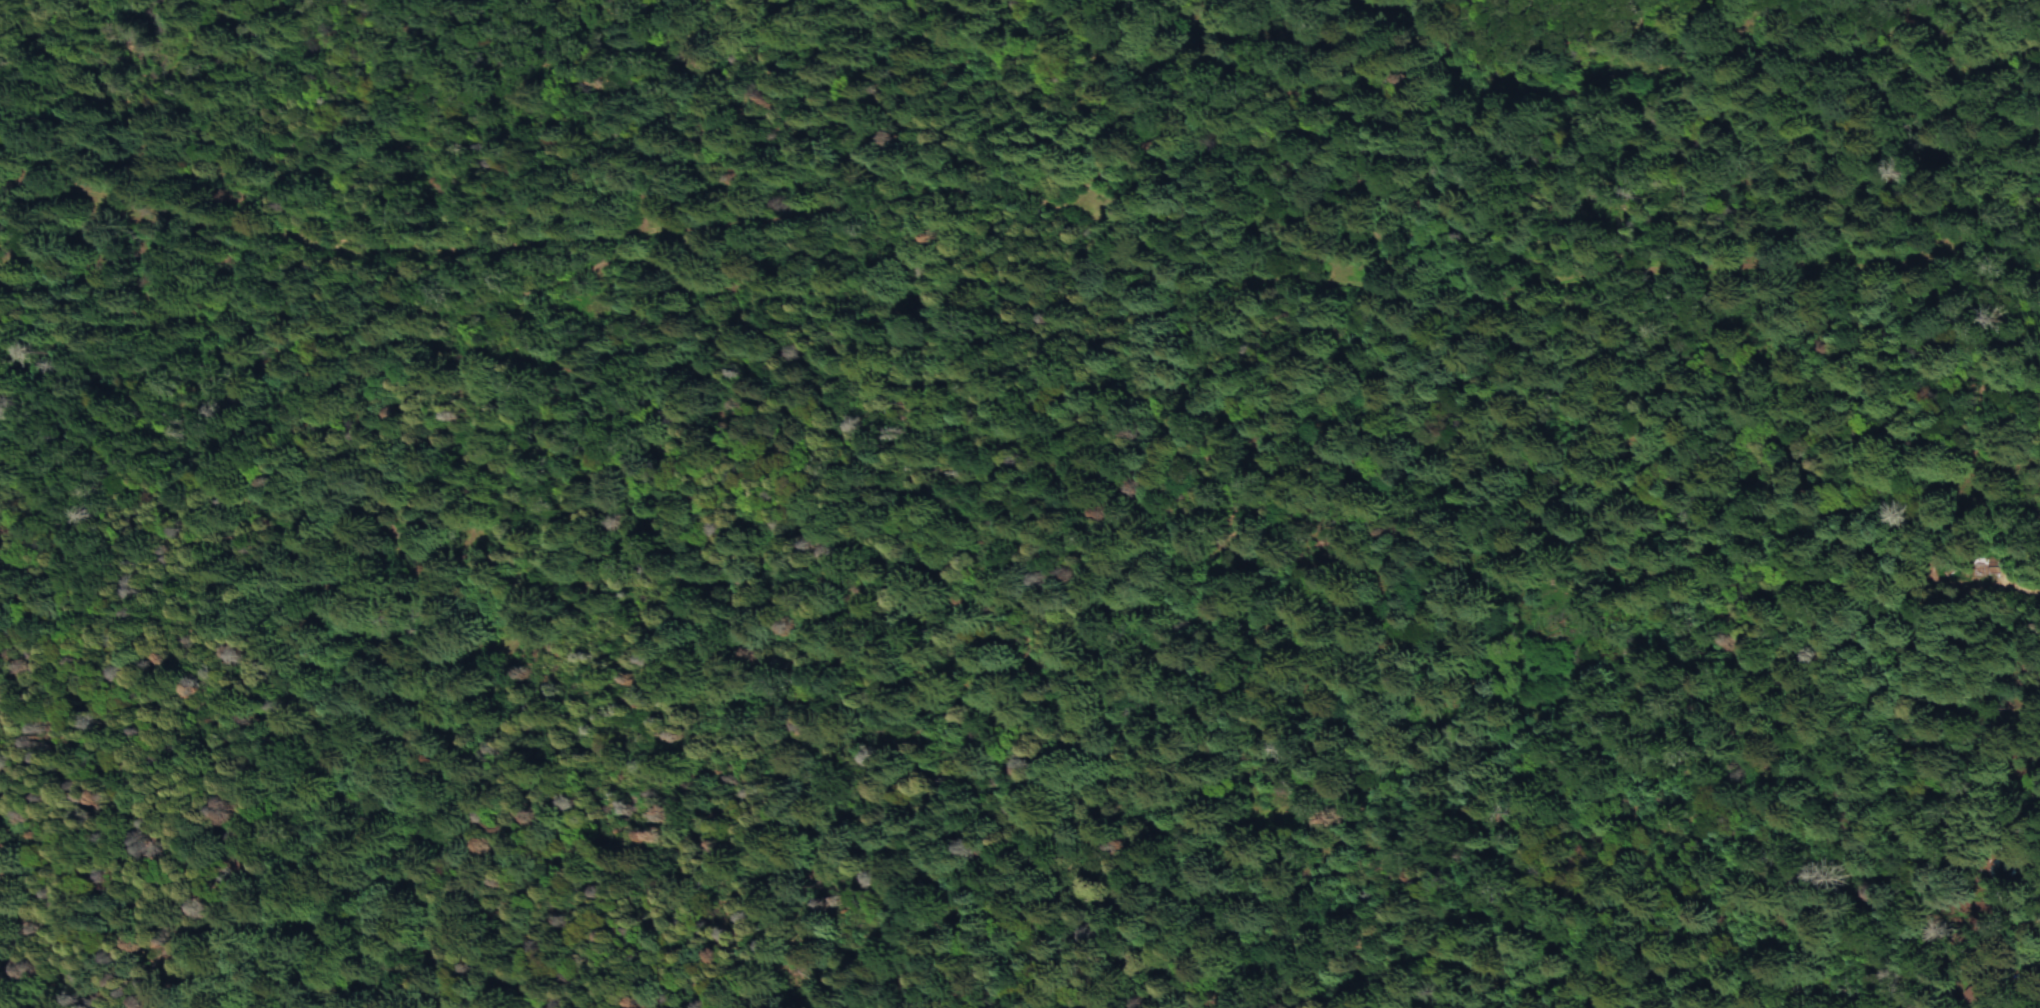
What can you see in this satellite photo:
road: (1027, 199)
road: (1097, 614)

